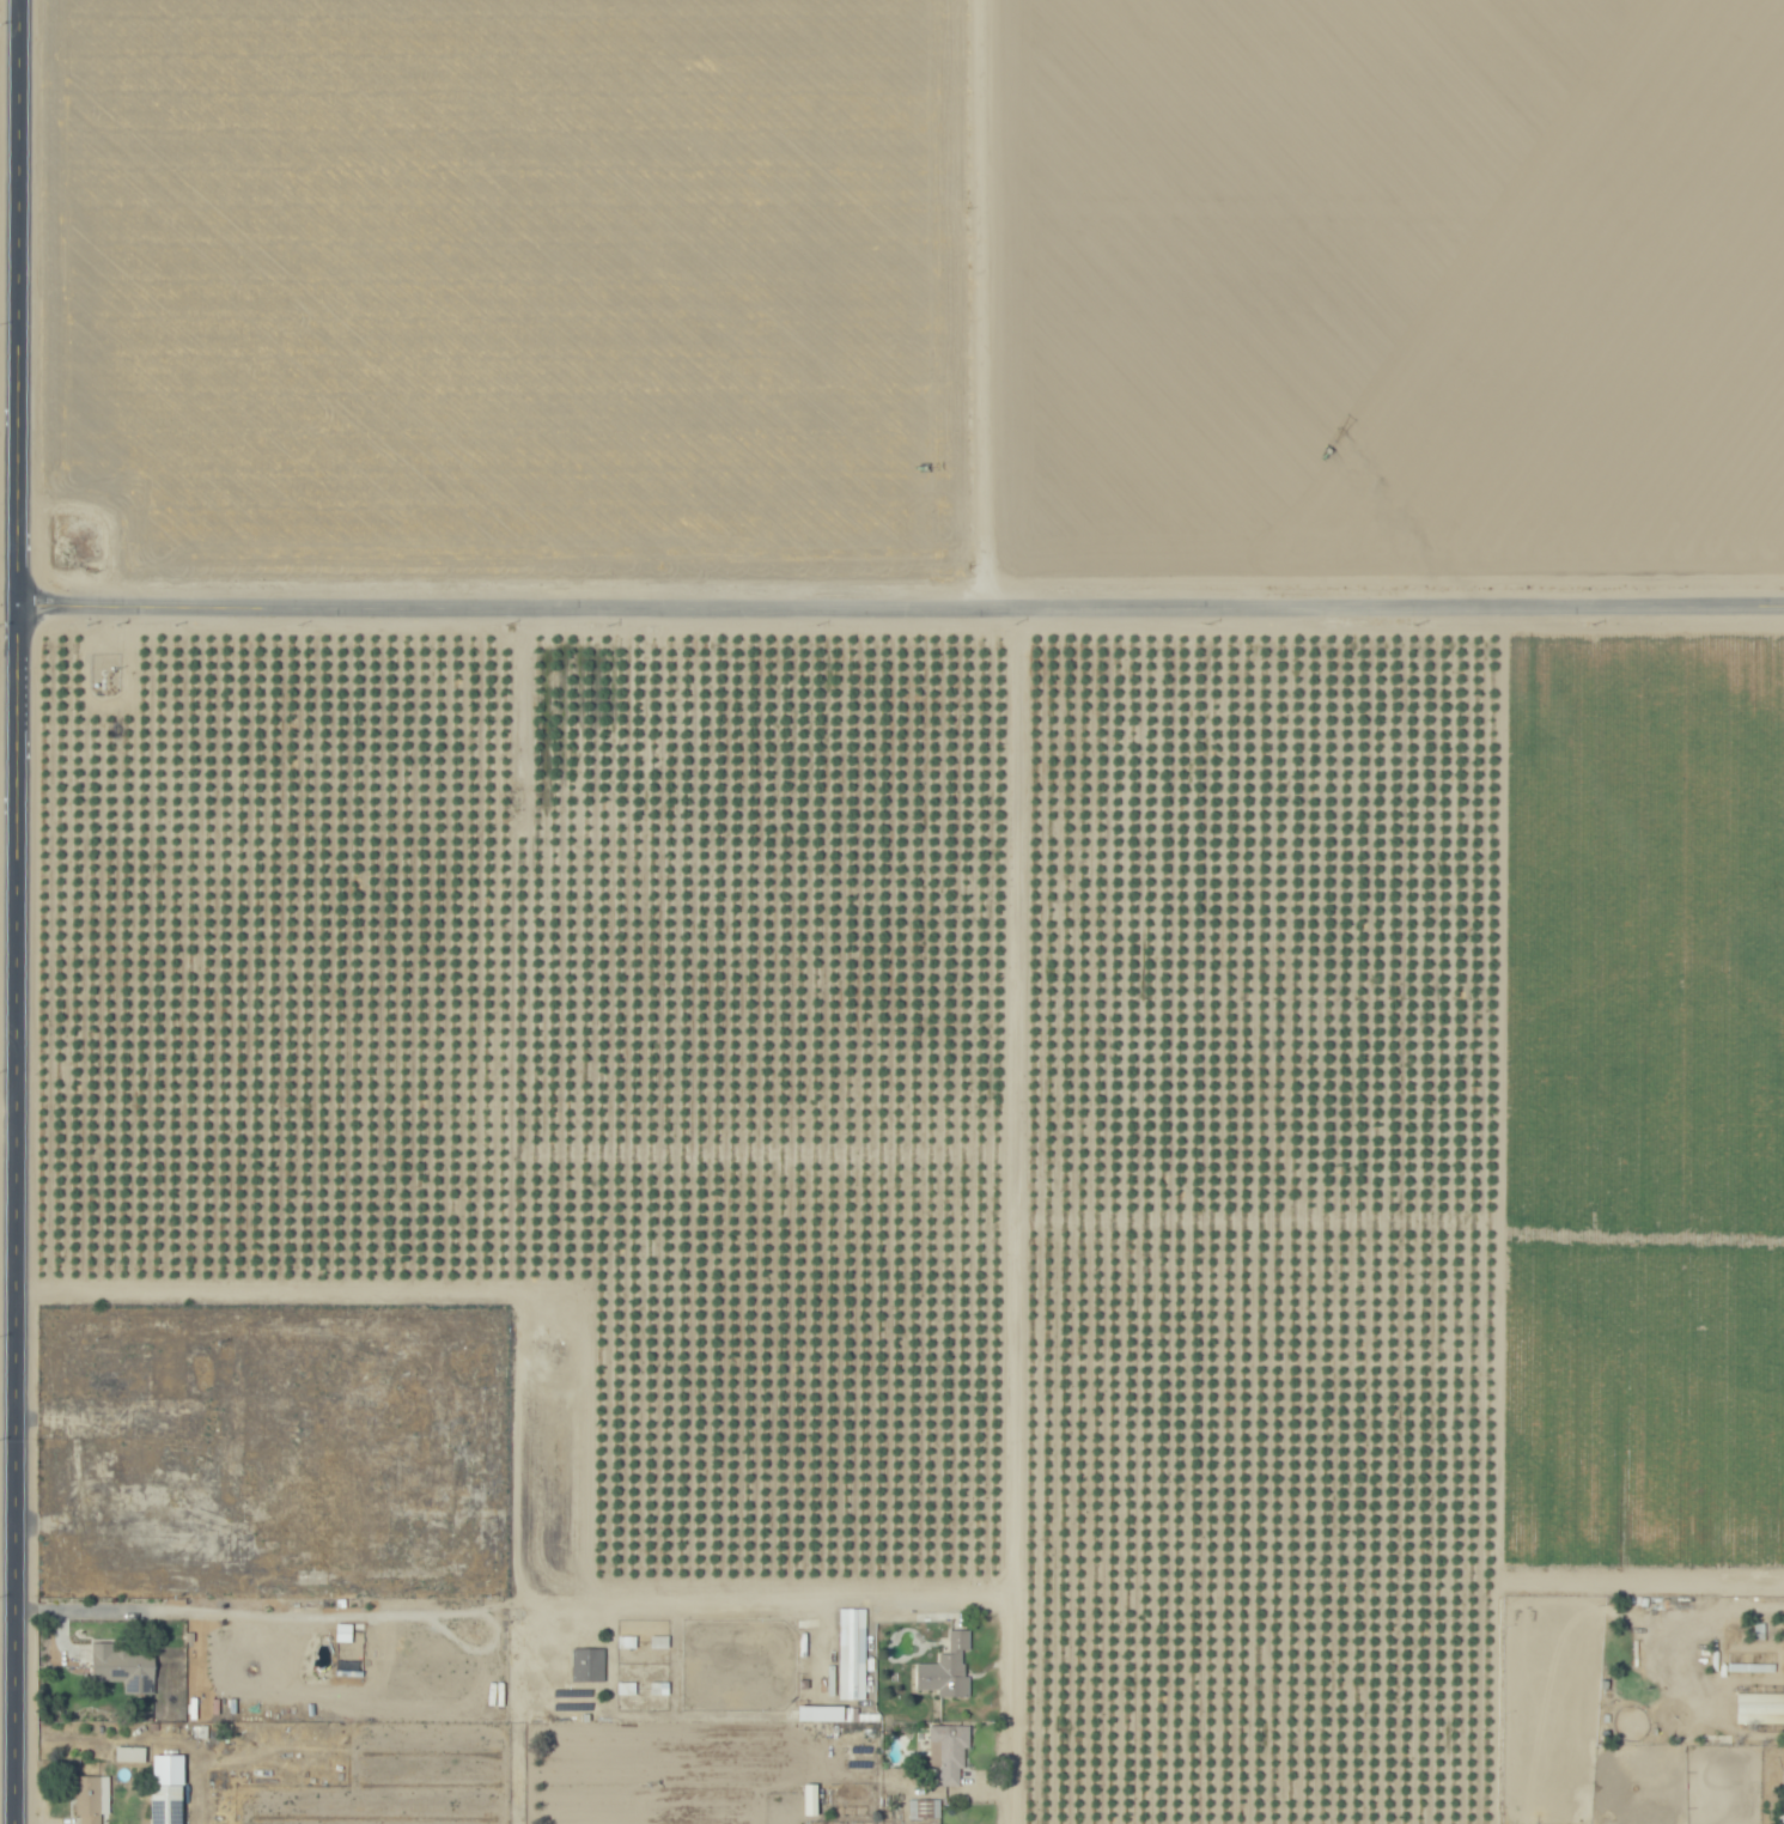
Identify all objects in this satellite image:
crop: (894, 292)
road: (901, 604)
road: (18, 911)
road: (8, 1095)
crop: (987, 1119)
building: (127, 1388)
building: (212, 1406)
building: (194, 1445)
building: (141, 1459)
road: (1679, 1628)
building: (341, 1633)
building: (625, 1641)
building: (657, 1641)
building: (1783, 1649)
building: (850, 1653)
building: (585, 1664)
building: (957, 1665)
building: (123, 1667)
building: (623, 1688)
building: (657, 1688)
building: (863, 1706)
building: (1759, 1708)
road: (1011, 1711)
building: (817, 1713)
building: (154, 1727)
building: (201, 1731)
building: (866, 1749)
building: (950, 1752)
building: (130, 1753)
building: (92, 1798)
building: (809, 1799)
building: (166, 1804)
building: (1780, 1804)
building: (925, 1808)
building: (848, 1811)
building: (894, 1816)

